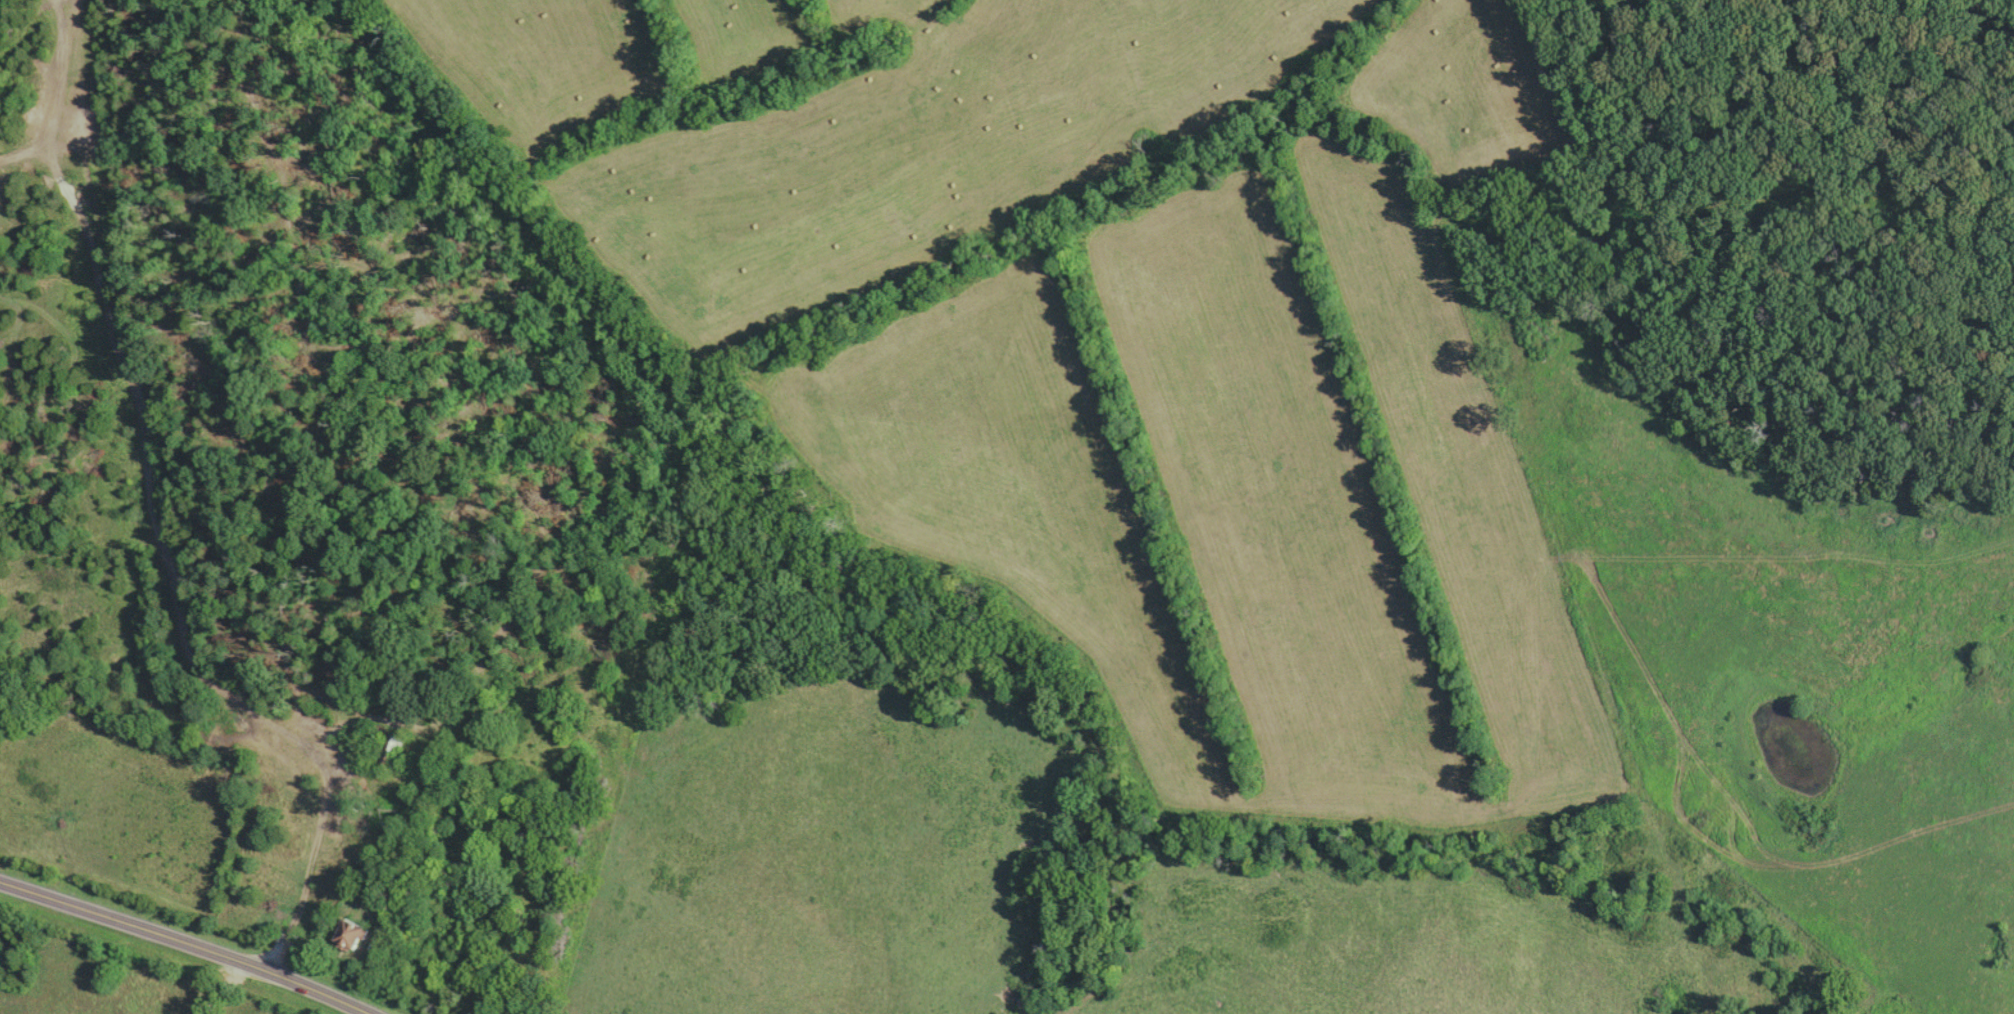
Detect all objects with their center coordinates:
building: (393, 754)
building: (449, 789)
building: (350, 936)
road: (194, 945)
road: (226, 989)

